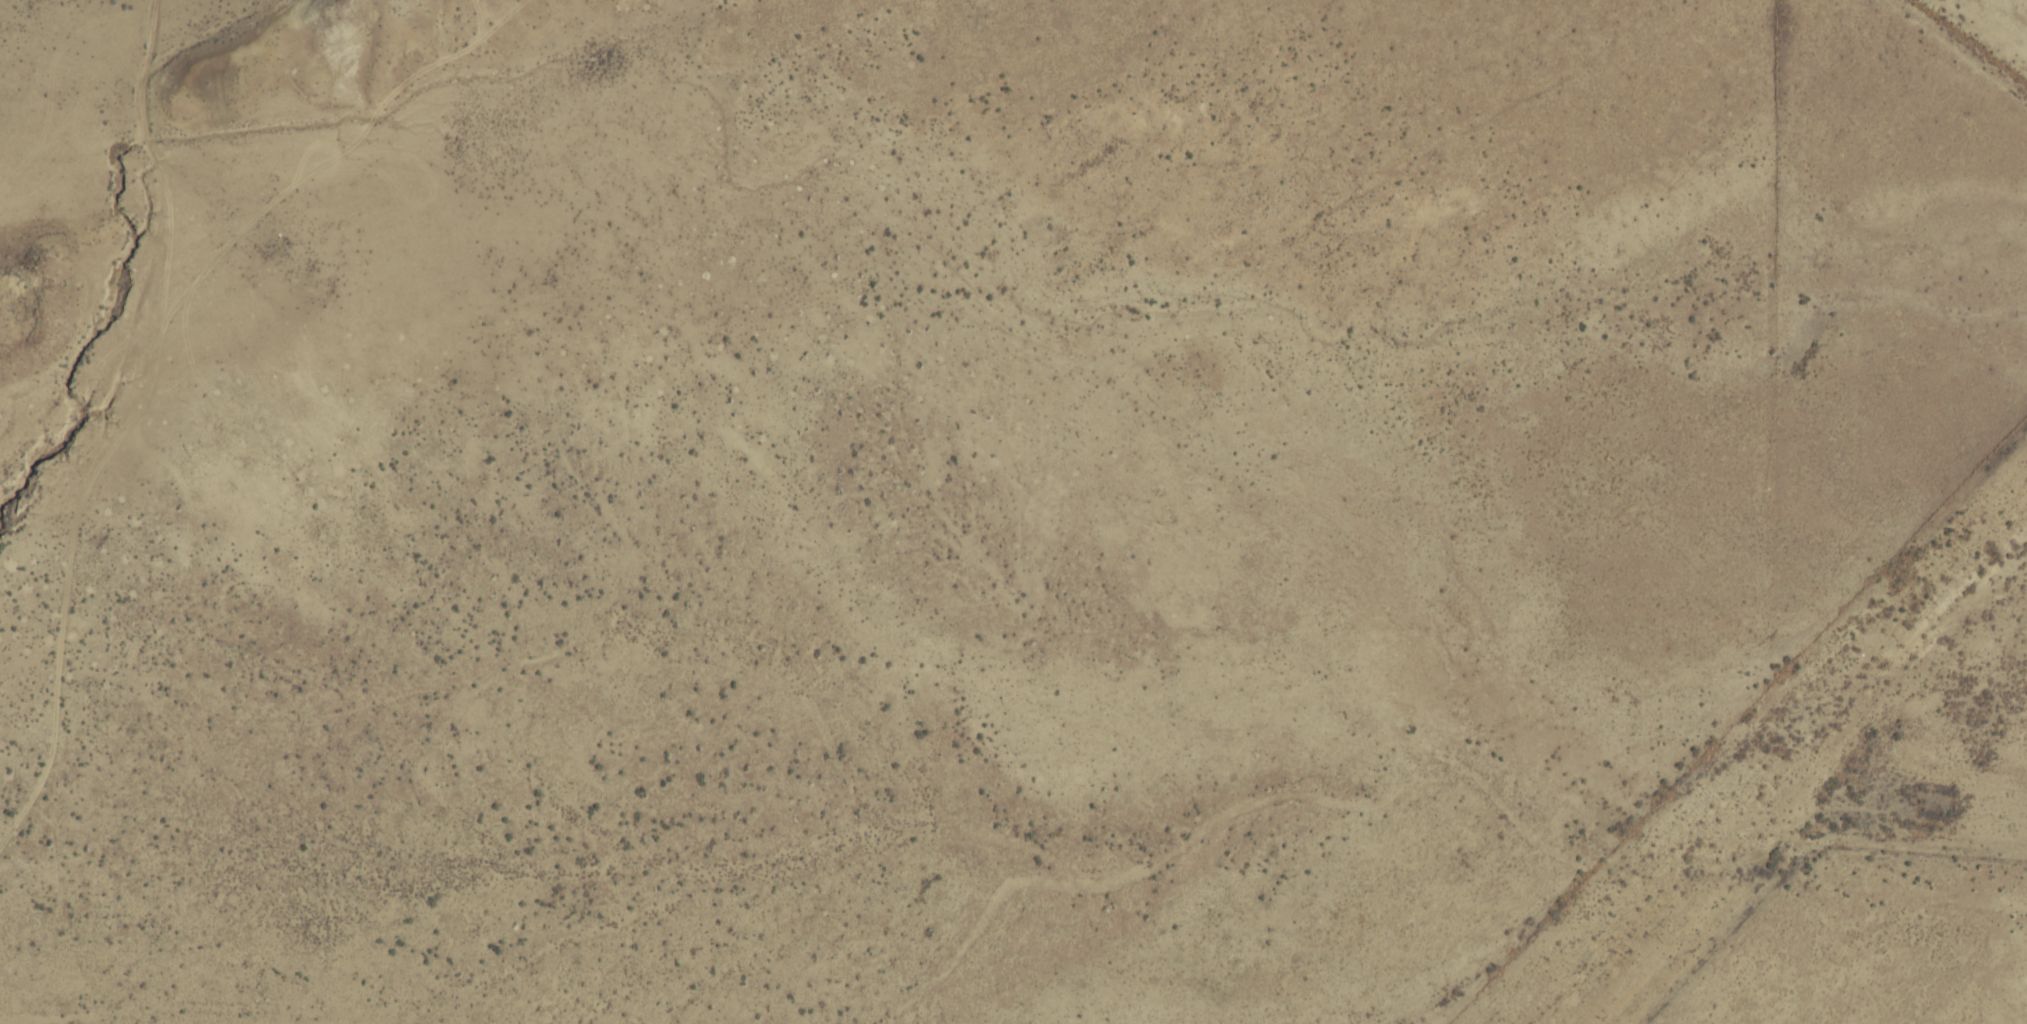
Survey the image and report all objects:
road: (483, 22)
road: (340, 151)
river: (88, 208)
road: (127, 433)

